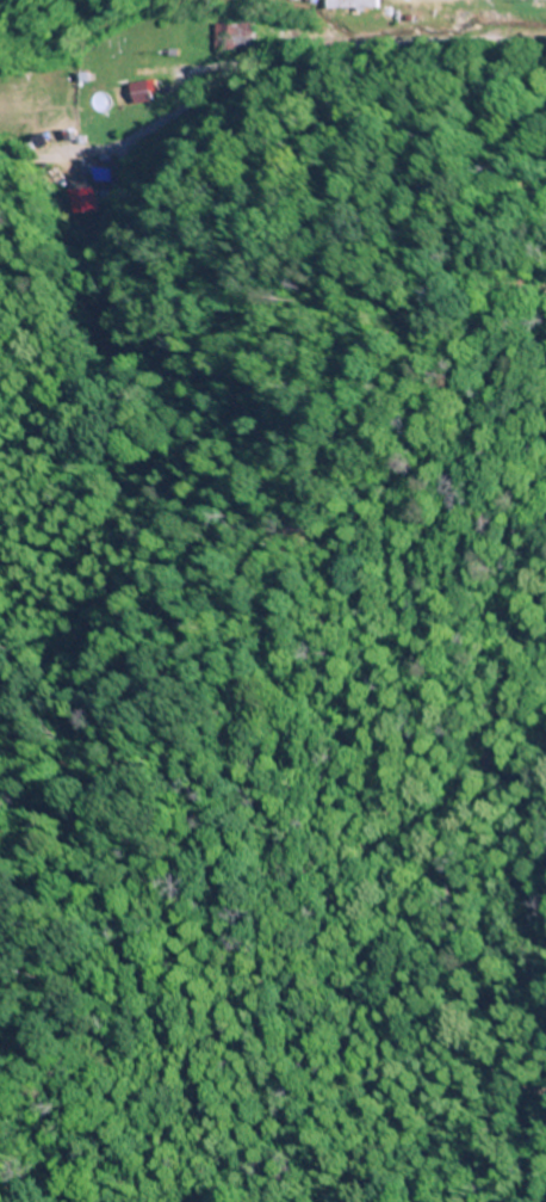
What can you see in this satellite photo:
building: (234, 36)
road: (237, 79)
building: (134, 94)

